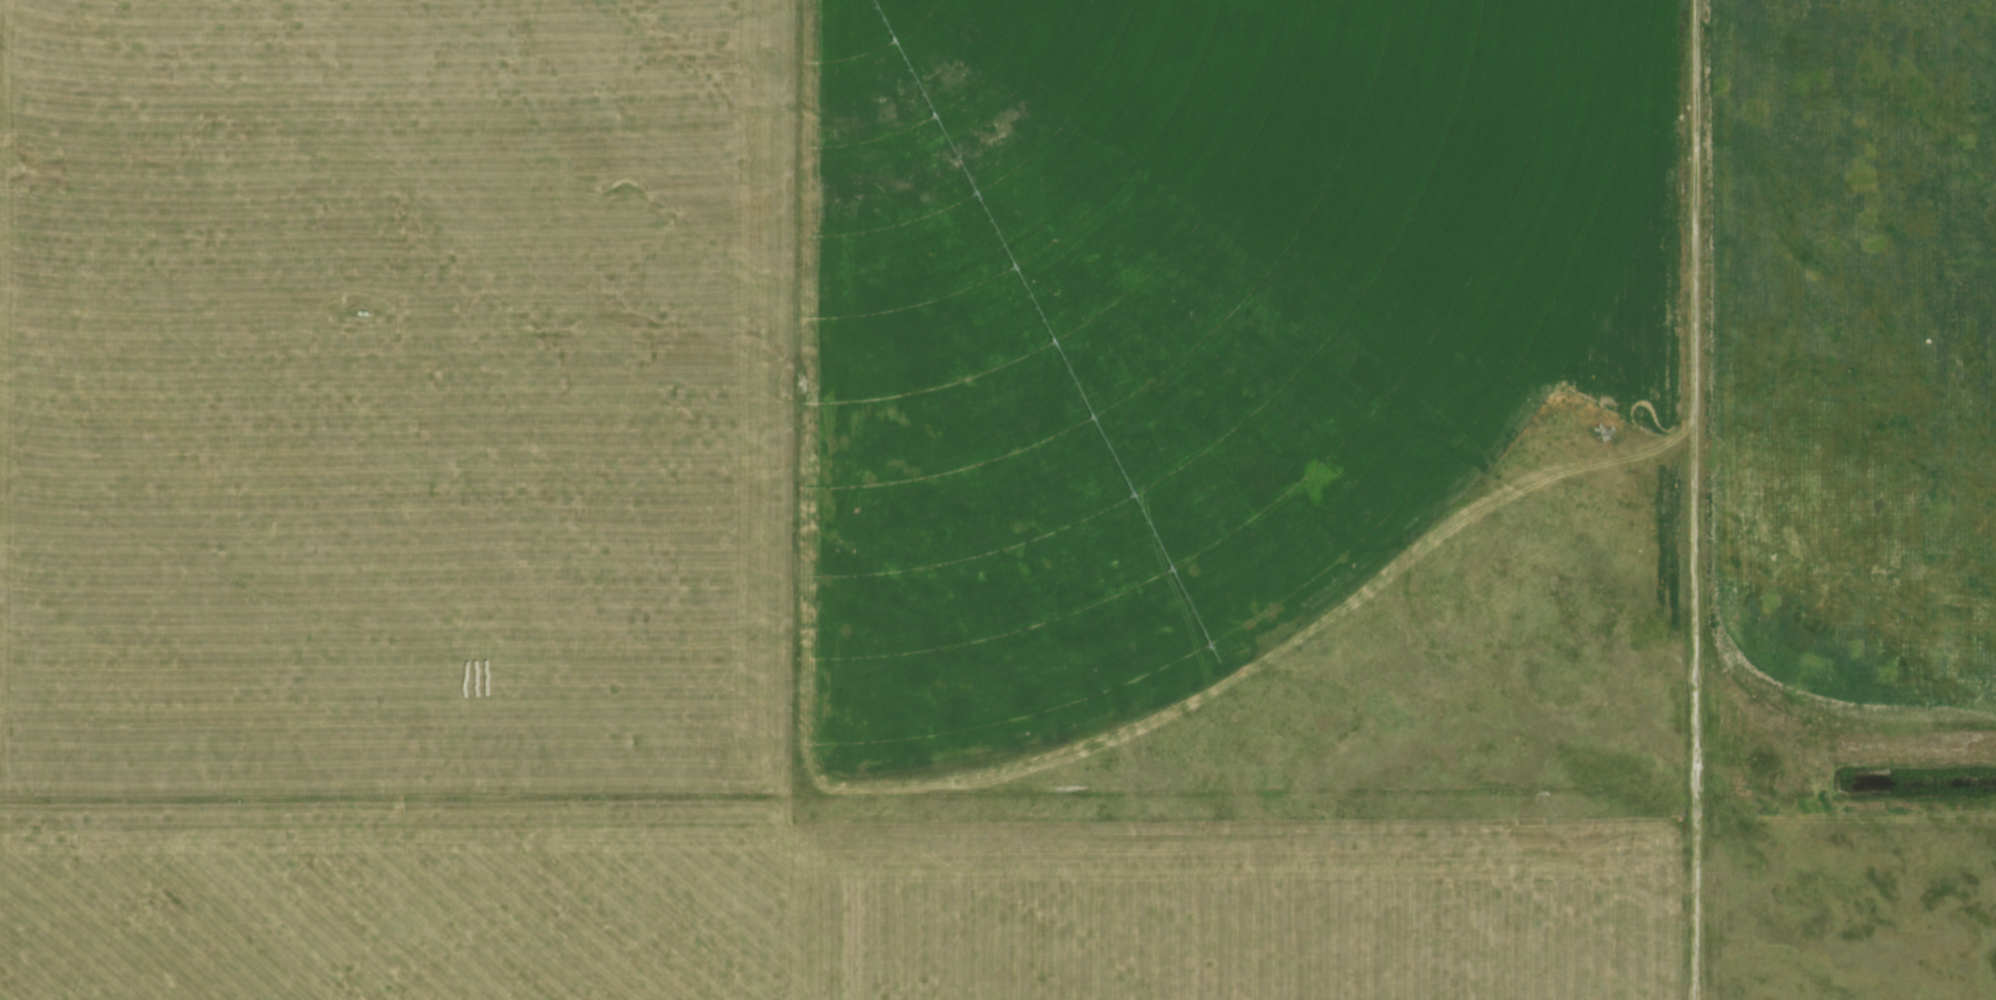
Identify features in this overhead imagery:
road: (1700, 499)

